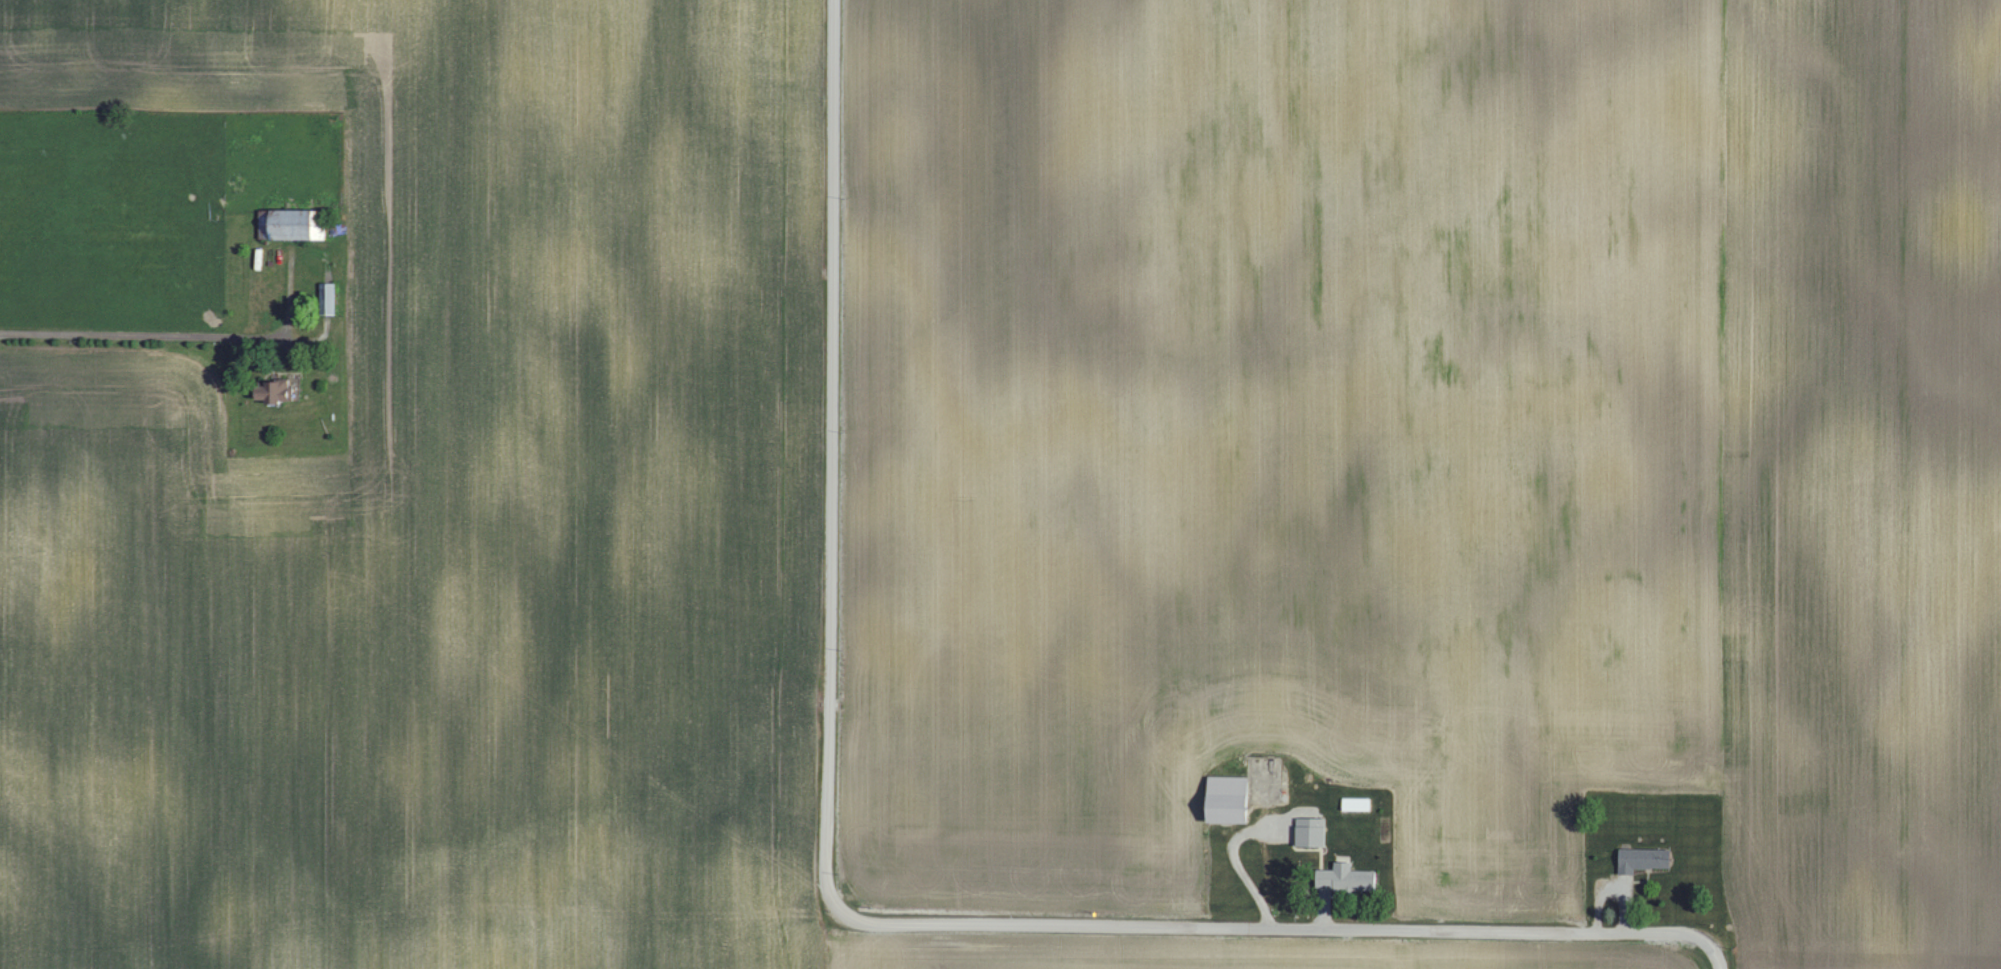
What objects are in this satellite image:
building: (328, 296)
road: (157, 332)
building: (275, 390)
building: (1230, 798)
building: (1645, 858)
building: (1352, 876)
road: (826, 888)
road: (1717, 947)

